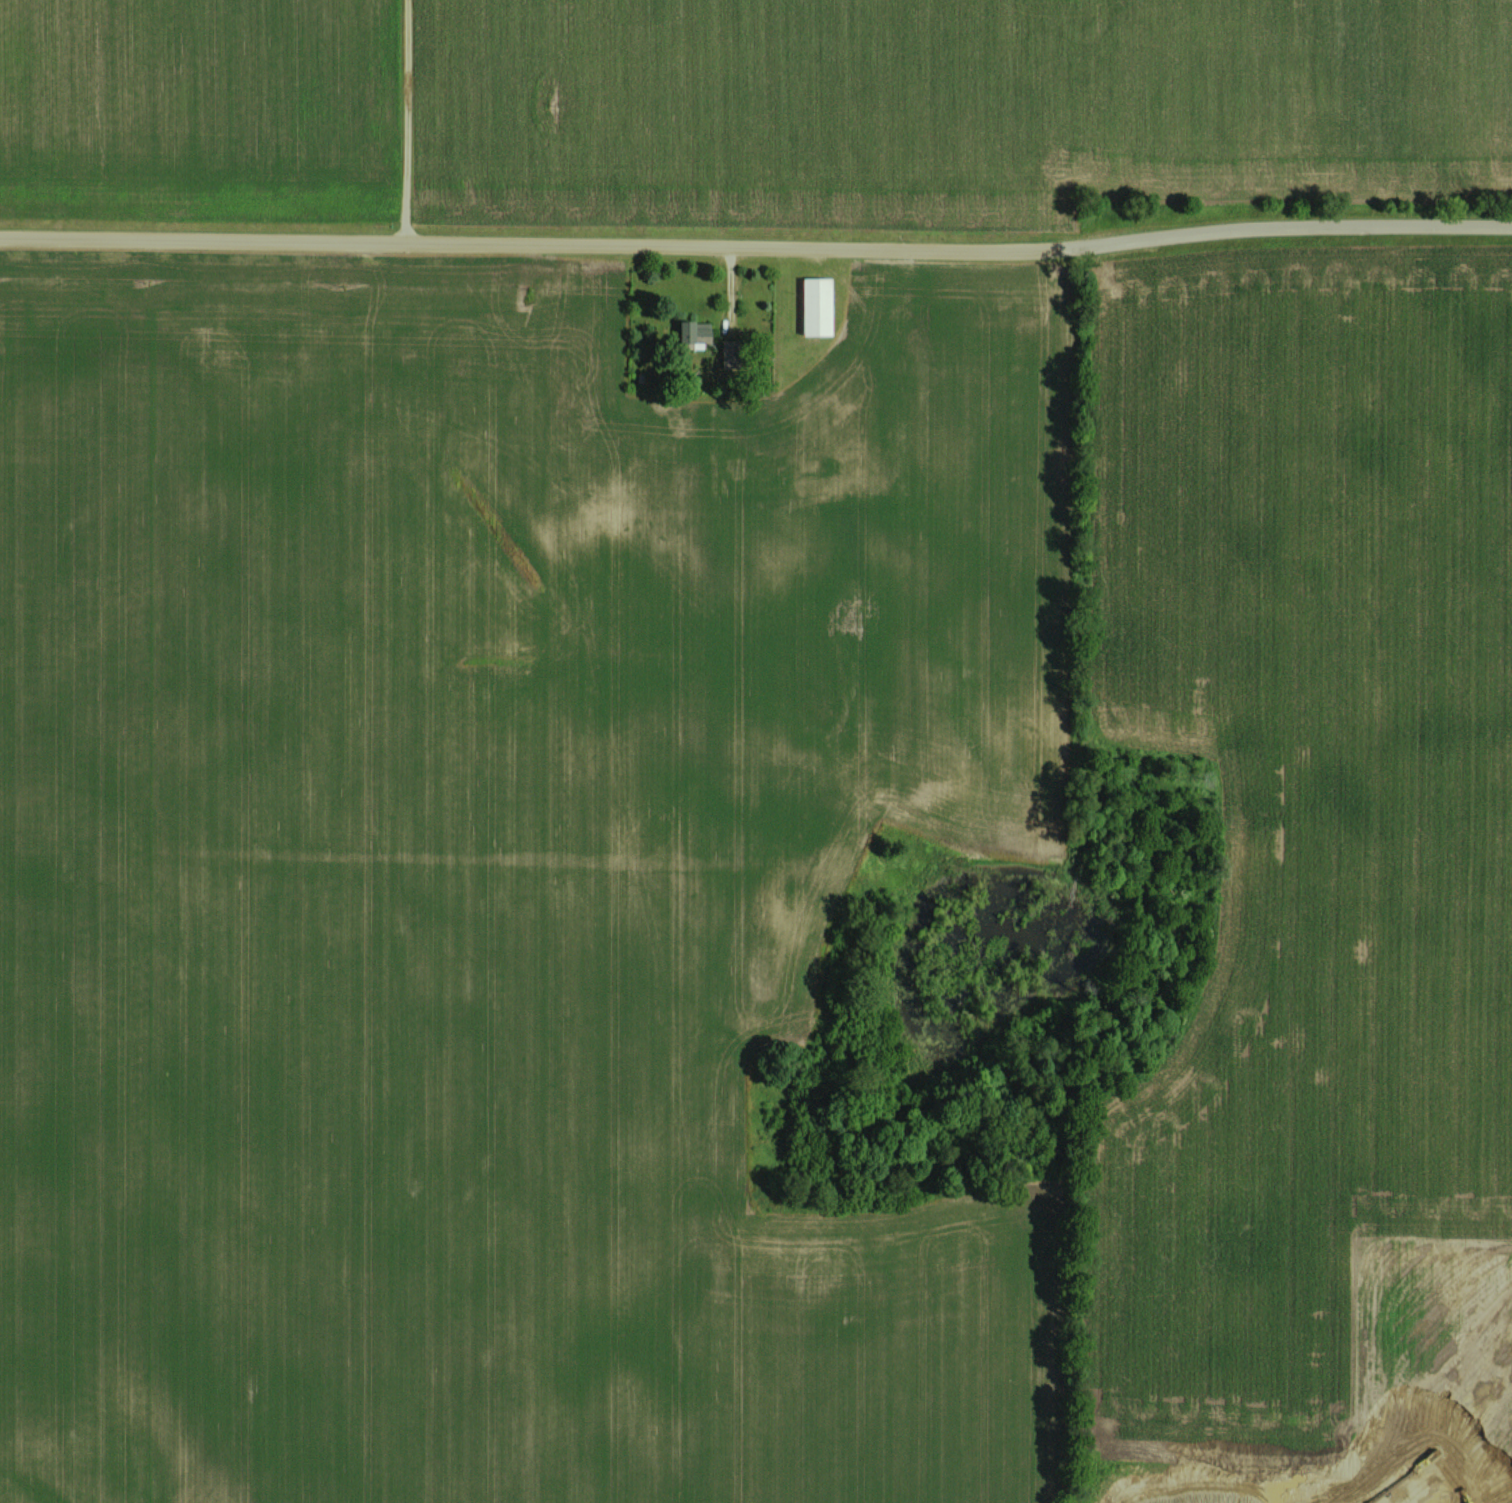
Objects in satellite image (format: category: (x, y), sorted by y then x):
road: (406, 120)
road: (1296, 224)
road: (540, 241)
building: (815, 306)
building: (694, 333)
building: (730, 353)

